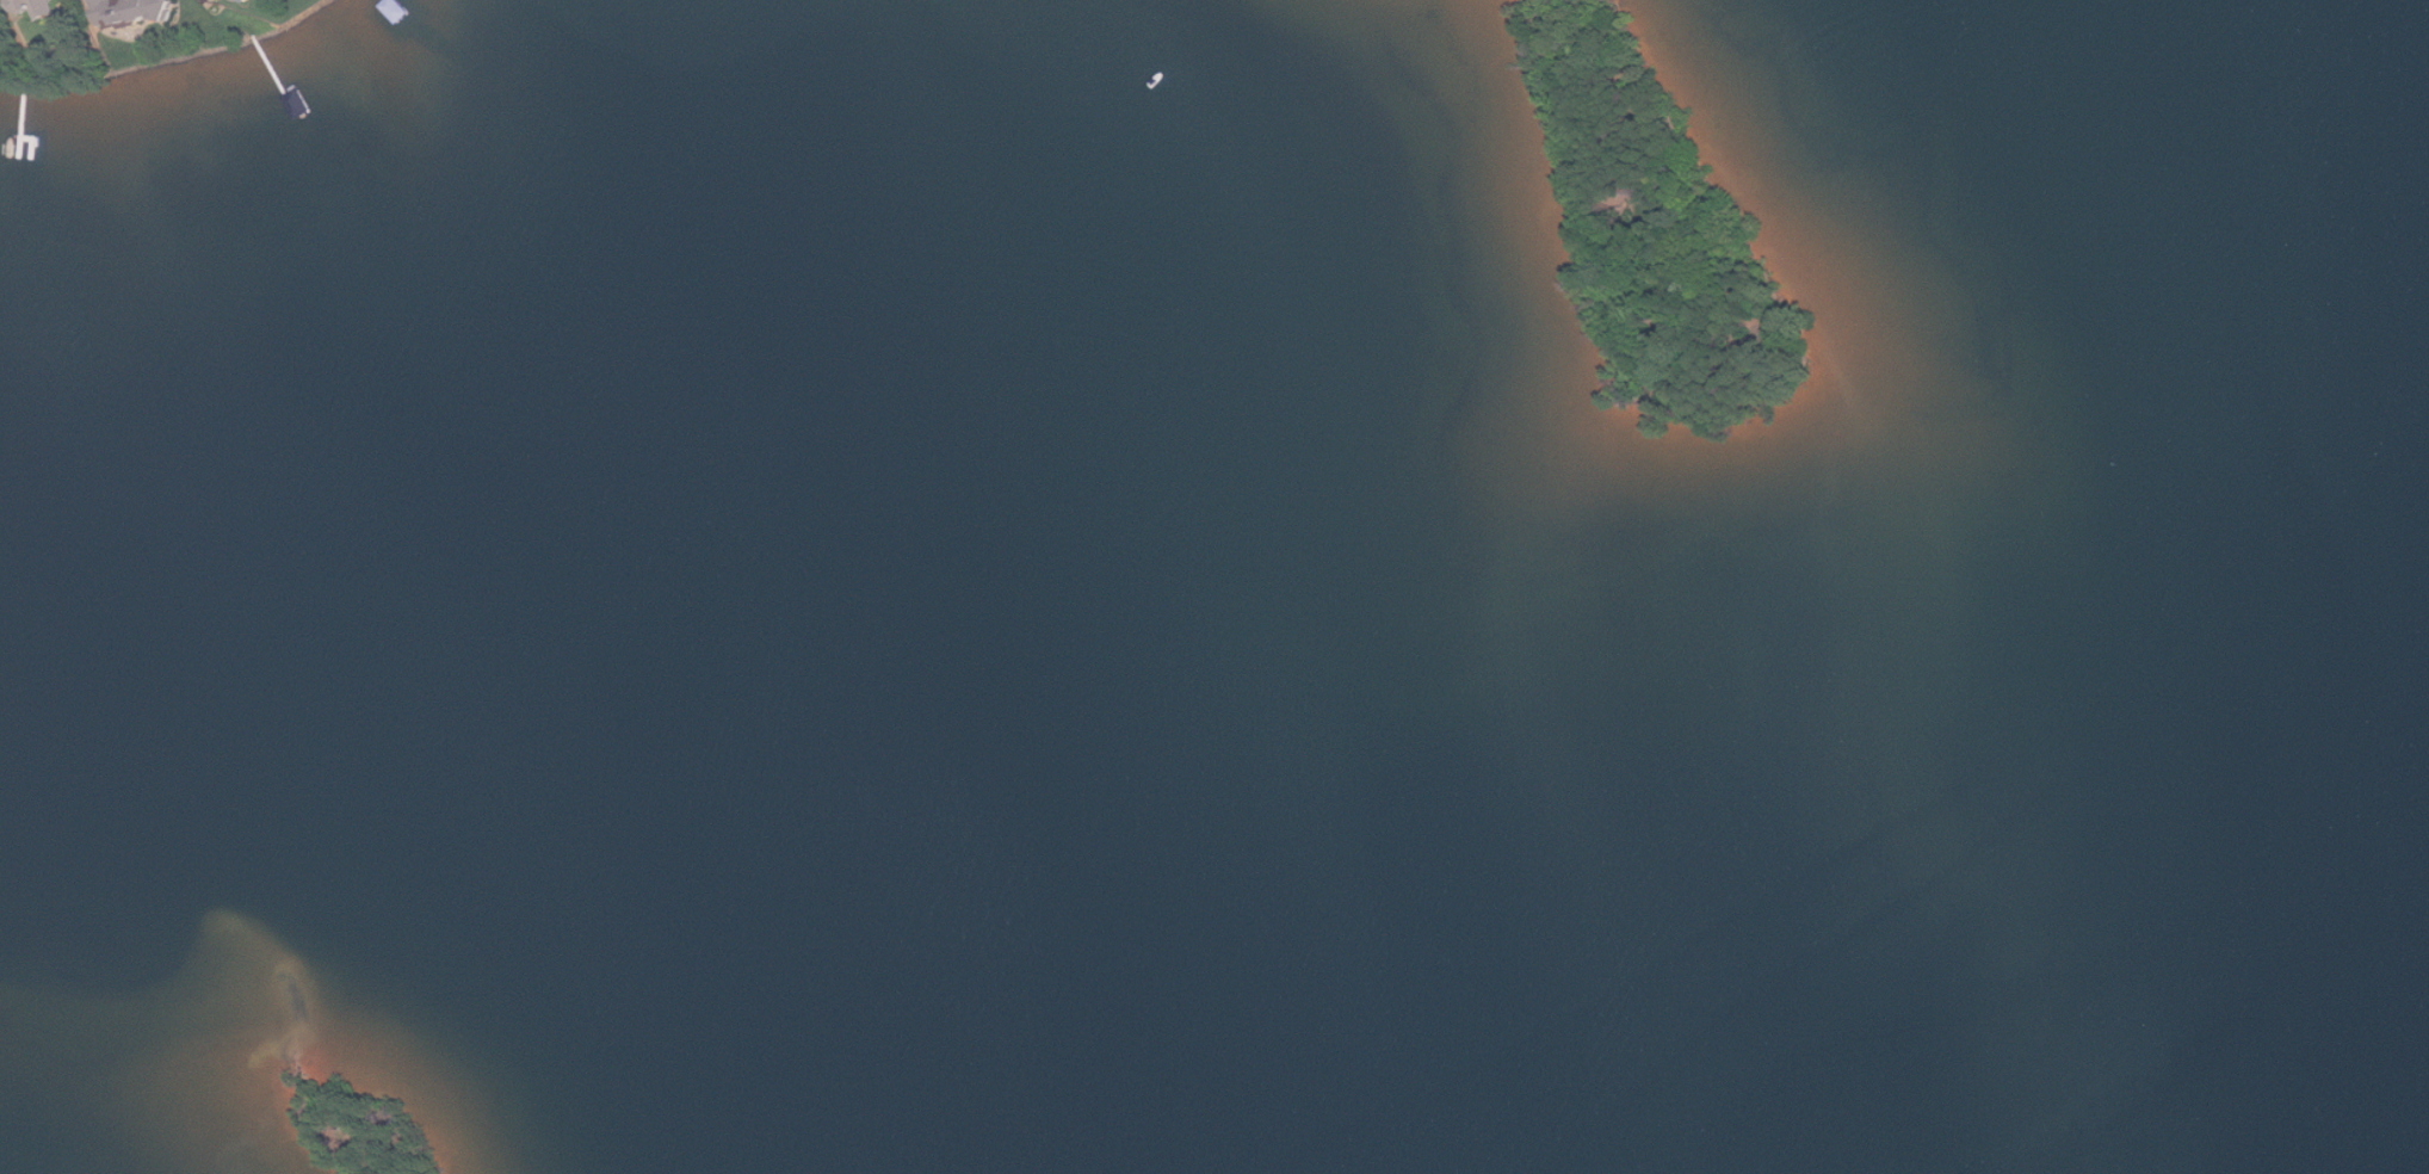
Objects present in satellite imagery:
building: (247, 0)
building: (41, 7)

